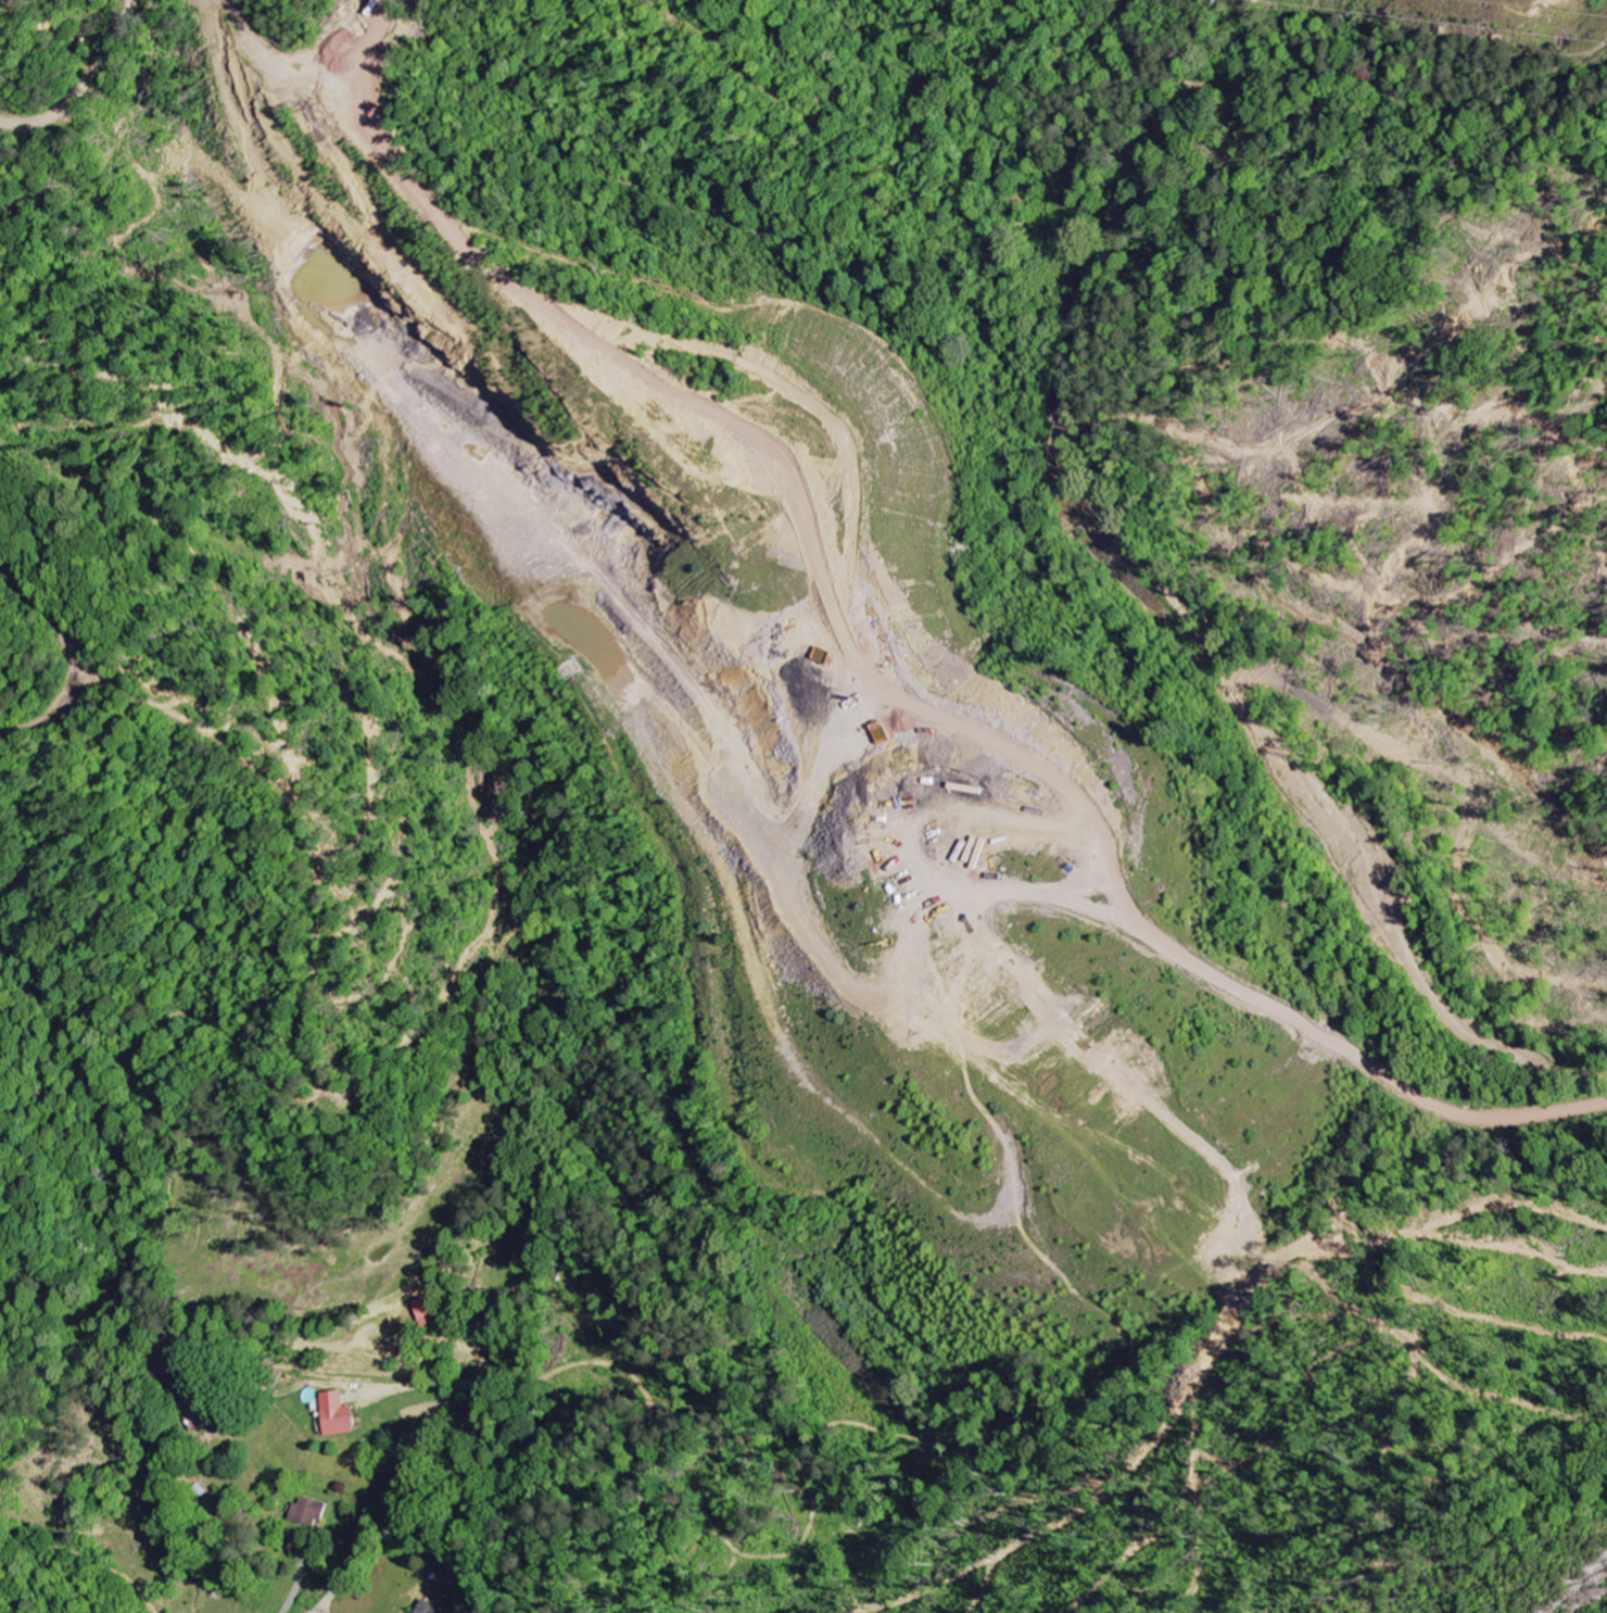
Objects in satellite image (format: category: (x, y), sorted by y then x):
road: (1149, 629)
building: (431, 1310)
building: (340, 1414)
building: (312, 1511)
road: (350, 1568)
building: (429, 1608)

